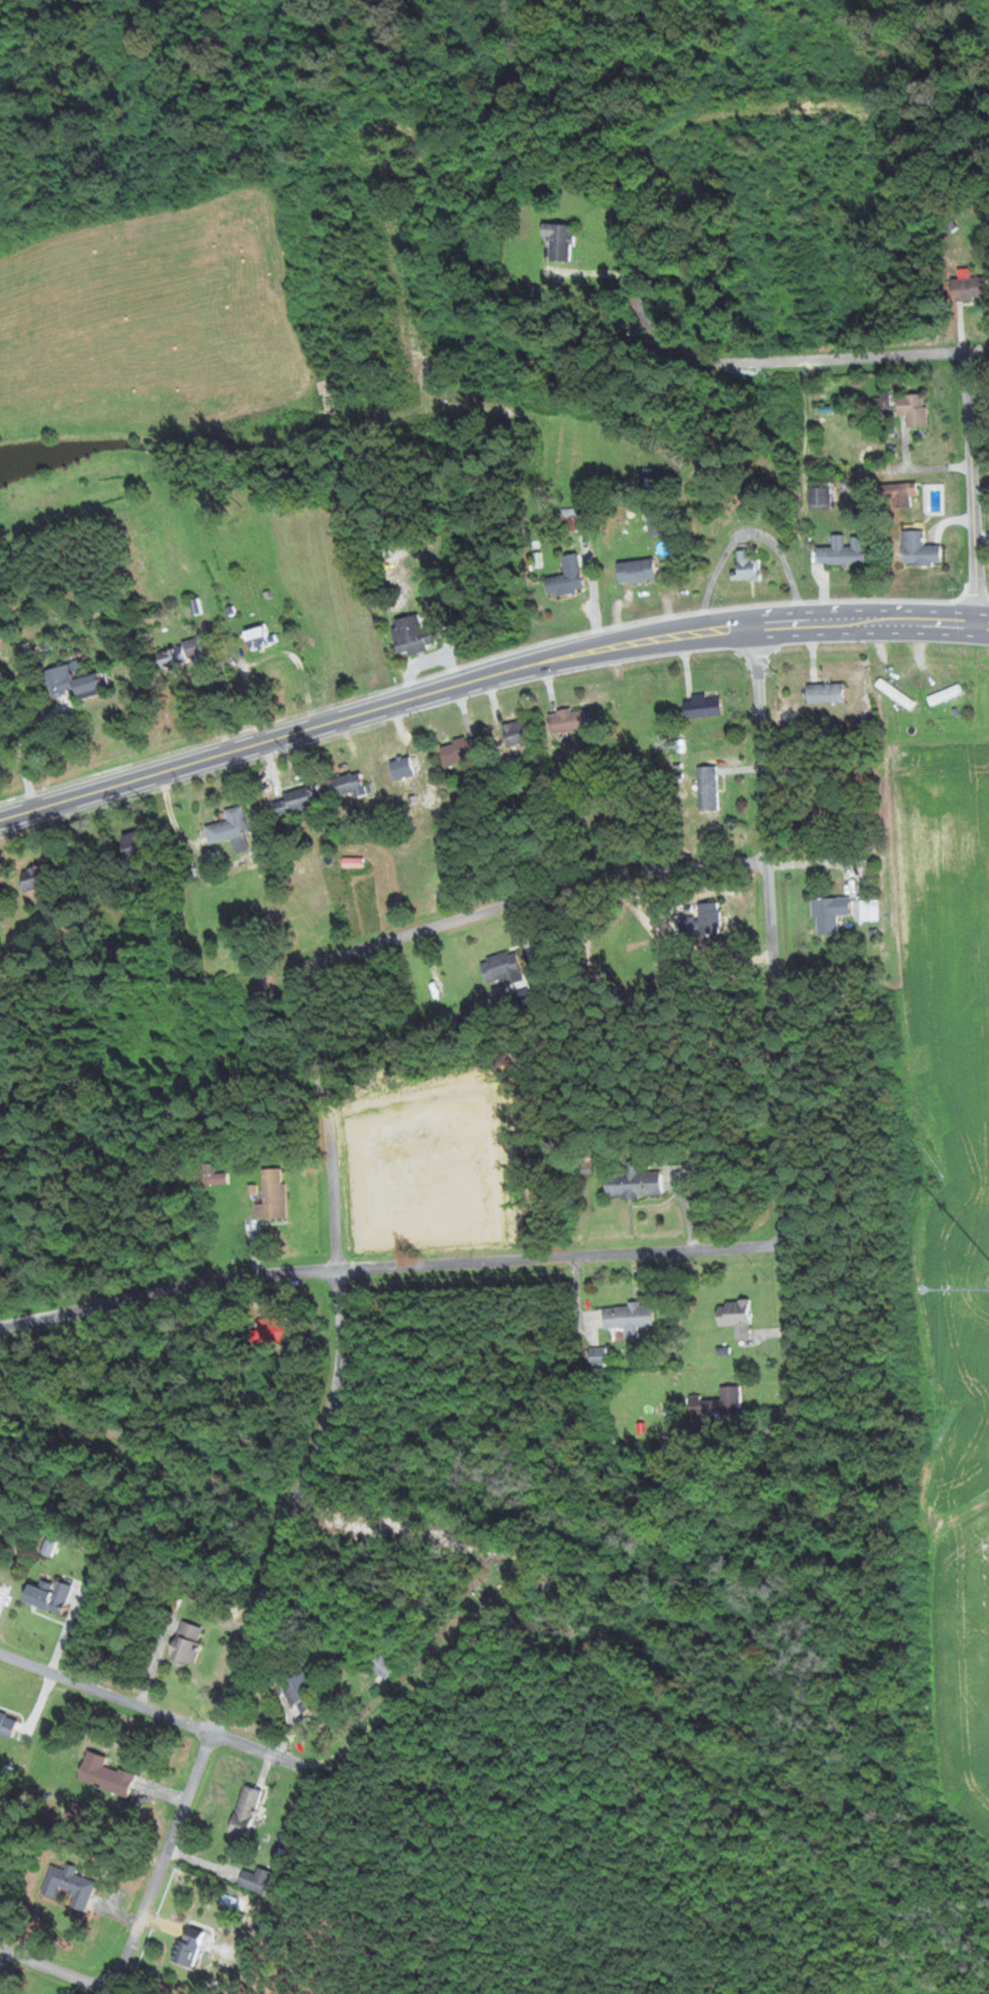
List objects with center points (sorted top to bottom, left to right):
building: (558, 241)
road: (629, 281)
building: (969, 288)
road: (974, 353)
building: (883, 403)
building: (912, 409)
road: (973, 489)
building: (896, 495)
building: (819, 496)
building: (576, 519)
building: (918, 550)
building: (841, 553)
building: (746, 565)
building: (635, 571)
building: (566, 577)
building: (410, 634)
building: (257, 637)
road: (448, 650)
building: (174, 655)
road: (487, 676)
building: (72, 683)
building: (825, 693)
building: (895, 694)
building: (945, 695)
building: (701, 706)
building: (566, 721)
building: (515, 734)
building: (458, 751)
building: (401, 768)
building: (345, 785)
building: (707, 787)
building: (292, 801)
building: (230, 829)
building: (133, 841)
building: (33, 877)
road: (527, 898)
building: (830, 913)
building: (708, 917)
building: (501, 968)
road: (776, 1021)
road: (329, 1116)
building: (588, 1169)
building: (208, 1173)
building: (631, 1182)
building: (271, 1194)
road: (564, 1255)
road: (167, 1288)
building: (735, 1316)
building: (627, 1318)
building: (597, 1355)
building: (717, 1402)
road: (297, 1504)
building: (43, 1598)
building: (186, 1642)
road: (156, 1662)
building: (381, 1666)
road: (410, 1690)
road: (106, 1692)
building: (301, 1692)
building: (7, 1724)
road: (259, 1749)
building: (104, 1776)
road: (162, 1791)
building: (243, 1811)
road: (165, 1856)
building: (254, 1880)
building: (69, 1886)
building: (188, 1946)
road: (2, 1956)
road: (57, 1968)

